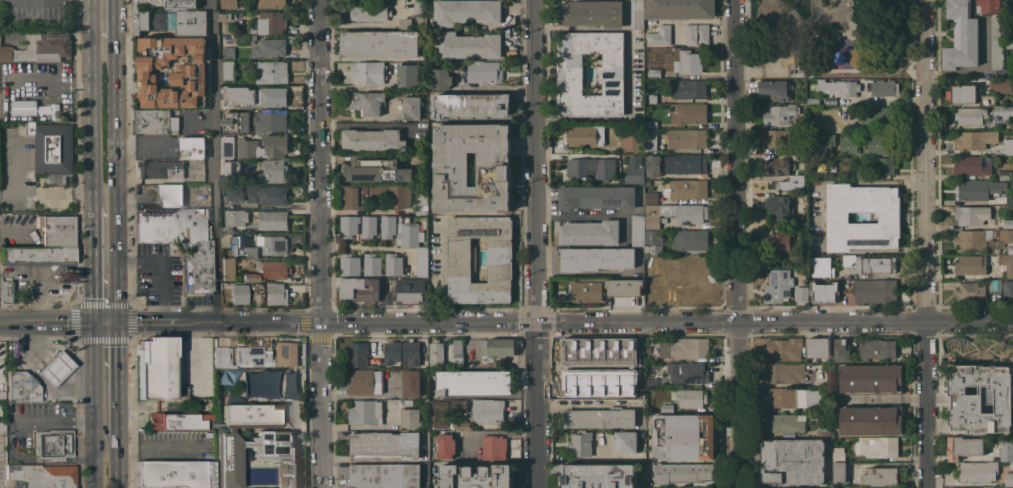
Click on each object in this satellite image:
building: (165, 3)
building: (271, 3)
building: (228, 4)
building: (987, 6)
building: (679, 9)
building: (366, 10)
building: (466, 12)
building: (590, 13)
building: (636, 14)
building: (224, 16)
road: (101, 19)
road: (835, 19)
building: (149, 21)
building: (270, 22)
building: (190, 23)
building: (406, 23)
building: (1012, 25)
building: (253, 30)
building: (696, 34)
building: (659, 35)
building: (961, 36)
park: (830, 38)
building: (996, 42)
building: (1009, 42)
building: (379, 43)
building: (466, 44)
road: (780, 46)
building: (39, 47)
building: (269, 47)
road: (886, 47)
building: (228, 53)
building: (688, 61)
building: (228, 69)
building: (480, 70)
building: (172, 71)
building: (270, 71)
building: (368, 72)
building: (653, 72)
building: (801, 72)
building: (408, 76)
building: (609, 77)
building: (440, 79)
building: (1000, 85)
building: (839, 87)
building: (883, 87)
building: (688, 89)
building: (774, 89)
building: (968, 95)
building: (254, 96)
building: (650, 98)
road: (885, 100)
building: (813, 101)
building: (364, 102)
building: (472, 105)
building: (411, 107)
building: (802, 107)
building: (24, 108)
building: (1003, 112)
building: (688, 113)
building: (781, 114)
building: (970, 115)
building: (879, 116)
road: (623, 119)
building: (235, 121)
building: (269, 121)
road: (102, 122)
building: (154, 122)
building: (651, 124)
building: (1011, 124)
building: (585, 135)
building: (781, 136)
building: (686, 138)
building: (372, 139)
building: (649, 141)
building: (821, 141)
building: (971, 141)
building: (631, 142)
building: (882, 143)
building: (848, 144)
building: (255, 146)
building: (51, 147)
building: (191, 147)
building: (1009, 148)
road: (214, 162)
building: (684, 163)
building: (883, 164)
building: (653, 165)
building: (972, 165)
building: (778, 166)
building: (591, 167)
building: (161, 168)
building: (231, 168)
building: (375, 169)
building: (494, 169)
building: (633, 169)
building: (272, 170)
building: (861, 174)
building: (1004, 174)
building: (792, 181)
building: (686, 188)
building: (977, 189)
road: (27, 193)
building: (255, 193)
building: (391, 194)
building: (170, 196)
building: (596, 196)
building: (353, 197)
building: (651, 197)
building: (1009, 199)
building: (421, 202)
road: (267, 205)
building: (780, 206)
road: (363, 211)
building: (688, 213)
road: (591, 214)
building: (971, 214)
building: (652, 216)
road: (817, 216)
building: (837, 216)
building: (234, 219)
building: (662, 219)
building: (271, 220)
building: (803, 223)
building: (1007, 224)
building: (348, 225)
building: (662, 225)
building: (368, 226)
building: (387, 226)
building: (637, 227)
building: (55, 230)
building: (589, 232)
building: (408, 233)
building: (653, 236)
building: (803, 238)
building: (982, 238)
building: (690, 240)
building: (179, 242)
building: (780, 242)
road: (320, 243)
road: (534, 243)
road: (738, 243)
road: (927, 244)
building: (256, 246)
road: (369, 247)
building: (653, 249)
building: (36, 256)
building: (461, 258)
building: (596, 258)
road: (118, 261)
road: (148, 261)
building: (421, 261)
building: (1002, 262)
building: (869, 263)
building: (349, 264)
building: (372, 264)
building: (393, 264)
building: (970, 264)
building: (679, 265)
building: (819, 265)
road: (104, 266)
building: (226, 269)
building: (272, 269)
road: (438, 270)
building: (246, 278)
road: (164, 282)
building: (994, 284)
building: (777, 285)
building: (624, 287)
building: (360, 289)
building: (690, 289)
building: (1007, 289)
building: (875, 290)
building: (6, 291)
building: (584, 291)
building: (657, 291)
building: (823, 291)
building: (971, 291)
building: (406, 292)
building: (801, 293)
building: (237, 294)
building: (275, 294)
road: (165, 314)
road: (667, 322)
road: (243, 323)
road: (52, 324)
road: (135, 324)
traffic signals: (105, 325)
building: (457, 346)
building: (817, 347)
building: (684, 348)
building: (784, 348)
building: (497, 349)
building: (877, 349)
building: (840, 350)
building: (392, 352)
building: (1, 353)
building: (411, 353)
building: (436, 353)
building: (581, 353)
building: (285, 354)
building: (358, 354)
building: (250, 356)
building: (220, 357)
building: (457, 359)
building: (470, 362)
building: (54, 369)
building: (153, 369)
building: (615, 372)
building: (782, 372)
building: (687, 373)
building: (870, 377)
building: (365, 381)
building: (472, 382)
building: (631, 383)
building: (651, 383)
road: (105, 384)
building: (264, 384)
building: (412, 384)
building: (582, 384)
building: (286, 385)
building: (20, 388)
building: (1, 397)
building: (689, 397)
building: (794, 397)
building: (980, 399)
building: (458, 405)
building: (666, 408)
building: (827, 408)
building: (370, 410)
building: (488, 410)
building: (248, 412)
building: (445, 417)
building: (600, 417)
building: (410, 418)
road: (62, 420)
building: (870, 420)
building: (179, 422)
building: (786, 422)
building: (1, 428)
building: (823, 430)
road: (495, 433)
building: (683, 436)
building: (624, 442)
building: (52, 444)
building: (385, 444)
building: (579, 445)
road: (154, 446)
building: (446, 446)
building: (876, 446)
building: (493, 447)
building: (964, 447)
building: (1006, 449)
road: (97, 452)
road: (111, 452)
building: (837, 454)
building: (256, 457)
building: (792, 461)
road: (31, 462)
building: (977, 471)
building: (683, 472)
building: (838, 472)
road: (90, 474)
road: (117, 474)
building: (175, 474)
building: (385, 475)
building: (1009, 475)
building: (42, 476)
building: (476, 476)
building: (598, 476)
building: (881, 476)
building: (694, 487)
building: (839, 487)
building: (878, 487)
building: (964, 487)
building: (987, 487)

